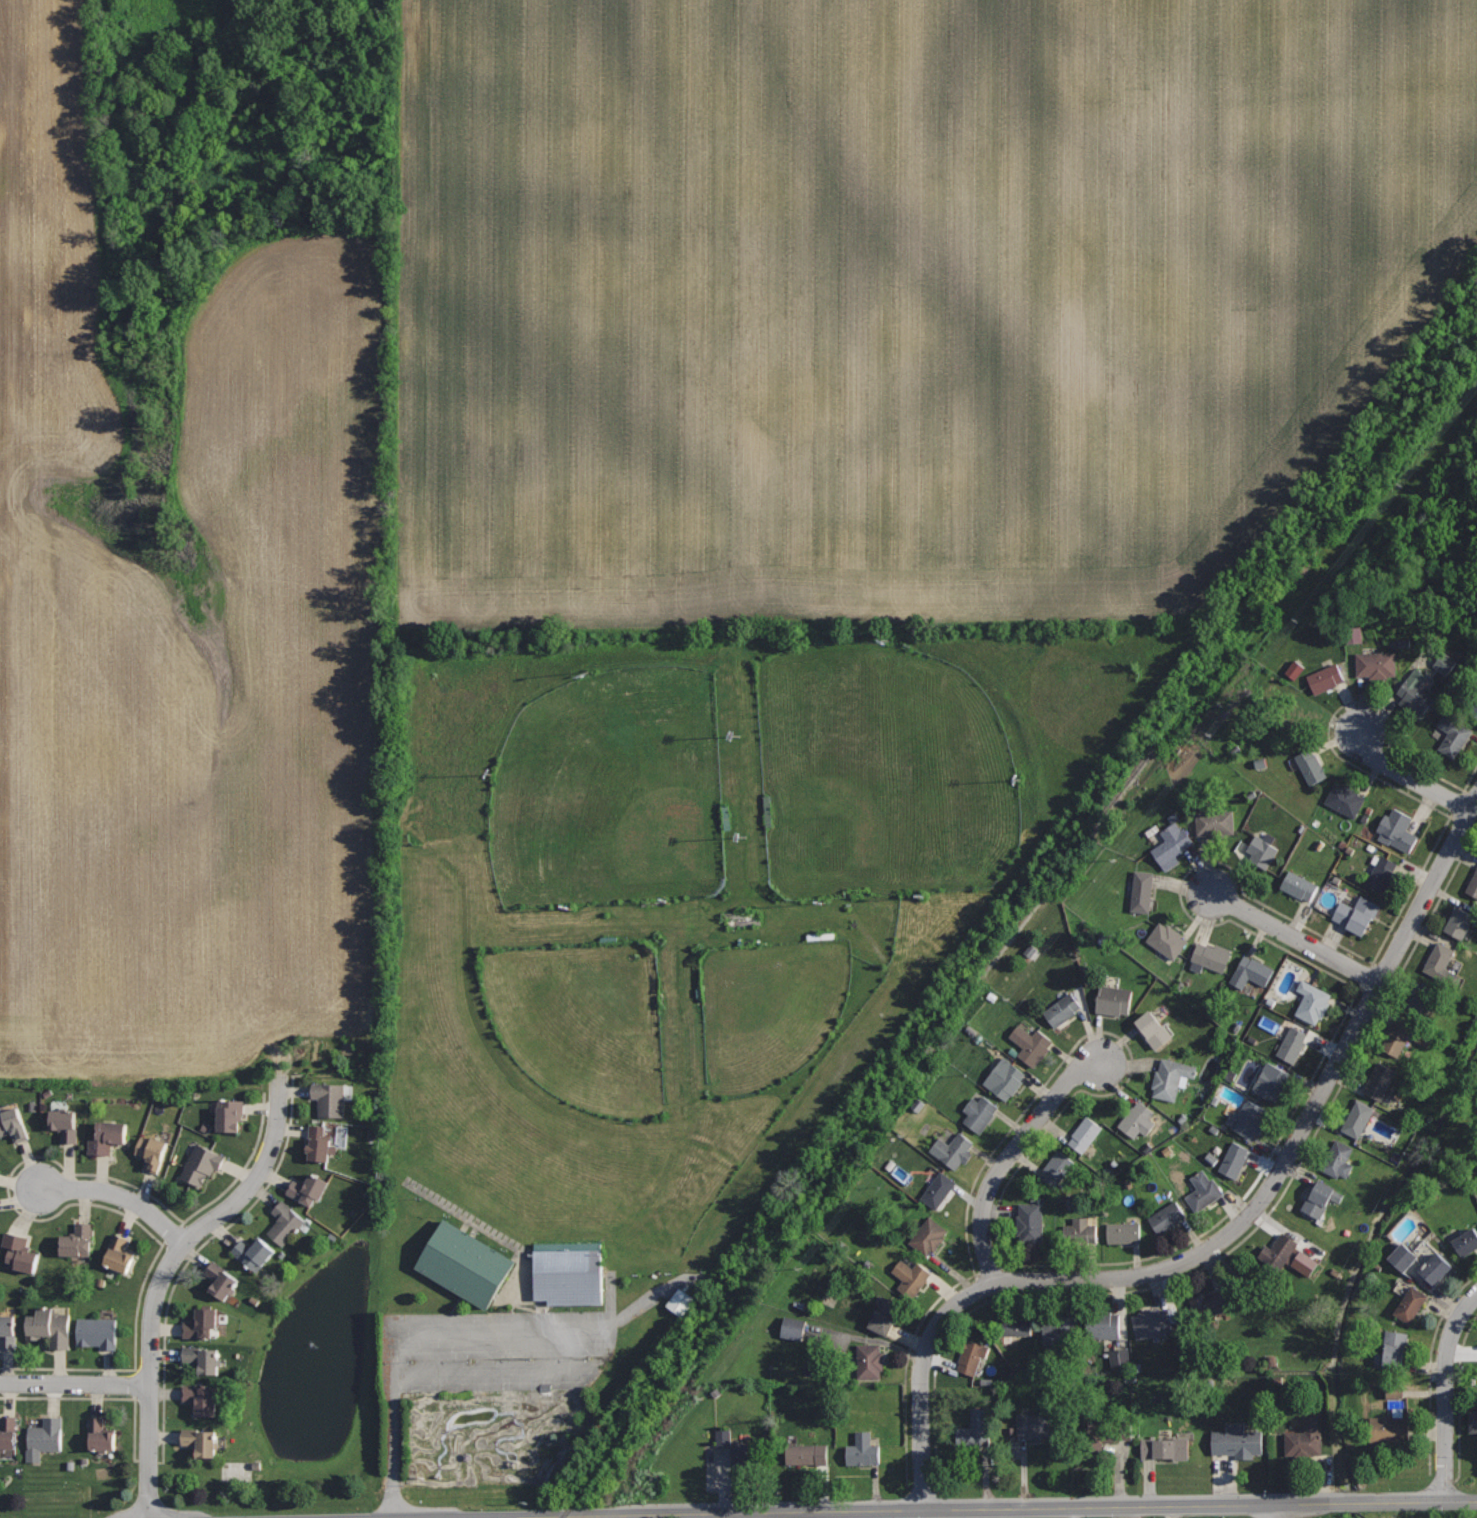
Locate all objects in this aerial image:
building: (1448, 663)
building: (1376, 664)
building: (1298, 670)
building: (1325, 678)
building: (1415, 693)
building: (1474, 709)
building: (1293, 715)
building: (1453, 737)
building: (1312, 765)
park: (881, 771)
road: (1409, 777)
park: (610, 790)
building: (1344, 799)
building: (1214, 823)
building: (1397, 830)
building: (1172, 841)
building: (1261, 851)
building: (1381, 874)
building: (1298, 885)
building: (1473, 885)
building: (1141, 891)
building: (1356, 913)
building: (1459, 922)
road: (1295, 937)
building: (1166, 939)
building: (1212, 954)
park: (689, 962)
building: (1441, 963)
building: (1250, 971)
building: (1113, 999)
building: (1312, 1001)
building: (1424, 1002)
park: (768, 1009)
building: (1062, 1009)
park: (582, 1020)
building: (1152, 1028)
building: (1397, 1037)
building: (1291, 1043)
building: (1031, 1044)
road: (671, 1054)
building: (1171, 1077)
building: (1004, 1080)
building: (1270, 1081)
building: (1379, 1081)
building: (330, 1098)
building: (979, 1113)
building: (229, 1114)
building: (1247, 1118)
building: (1358, 1118)
building: (1137, 1119)
building: (64, 1123)
building: (13, 1124)
building: (1084, 1134)
building: (107, 1137)
building: (318, 1142)
building: (953, 1149)
building: (152, 1151)
road: (1009, 1157)
building: (1233, 1159)
building: (1338, 1159)
building: (201, 1163)
building: (1055, 1168)
building: (307, 1188)
building: (938, 1189)
building: (1200, 1190)
road: (119, 1198)
building: (1322, 1198)
building: (1166, 1216)
building: (285, 1222)
building: (1030, 1222)
building: (1079, 1231)
building: (1122, 1232)
road: (490, 1233)
road: (1226, 1234)
building: (927, 1235)
building: (77, 1240)
building: (1466, 1242)
building: (1280, 1251)
building: (20, 1252)
building: (253, 1252)
building: (118, 1254)
building: (1407, 1258)
building: (465, 1263)
building: (1310, 1264)
building: (1435, 1268)
building: (569, 1272)
building: (910, 1277)
road: (162, 1278)
building: (221, 1279)
building: (1407, 1299)
building: (1211, 1300)
building: (685, 1302)
building: (884, 1315)
road: (513, 1321)
building: (1100, 1322)
building: (1154, 1322)
building: (201, 1323)
building: (1013, 1323)
building: (50, 1327)
building: (796, 1329)
building: (8, 1331)
building: (97, 1332)
building: (1058, 1332)
parking lot: (506, 1349)
building: (1392, 1350)
building: (974, 1354)
building: (202, 1358)
building: (868, 1359)
building: (1124, 1359)
road: (398, 1370)
road: (75, 1383)
building: (1400, 1392)
road: (1446, 1394)
building: (200, 1399)
building: (1472, 1420)
building: (1034, 1424)
building: (975, 1428)
building: (1387, 1430)
building: (8, 1432)
building: (100, 1435)
building: (1098, 1436)
building: (1305, 1437)
building: (45, 1438)
building: (726, 1438)
building: (200, 1440)
building: (1236, 1441)
road: (399, 1446)
building: (1164, 1447)
building: (862, 1450)
building: (747, 1454)
building: (800, 1454)
road: (1019, 1509)
road: (1277, 1511)
road: (738, 1516)

